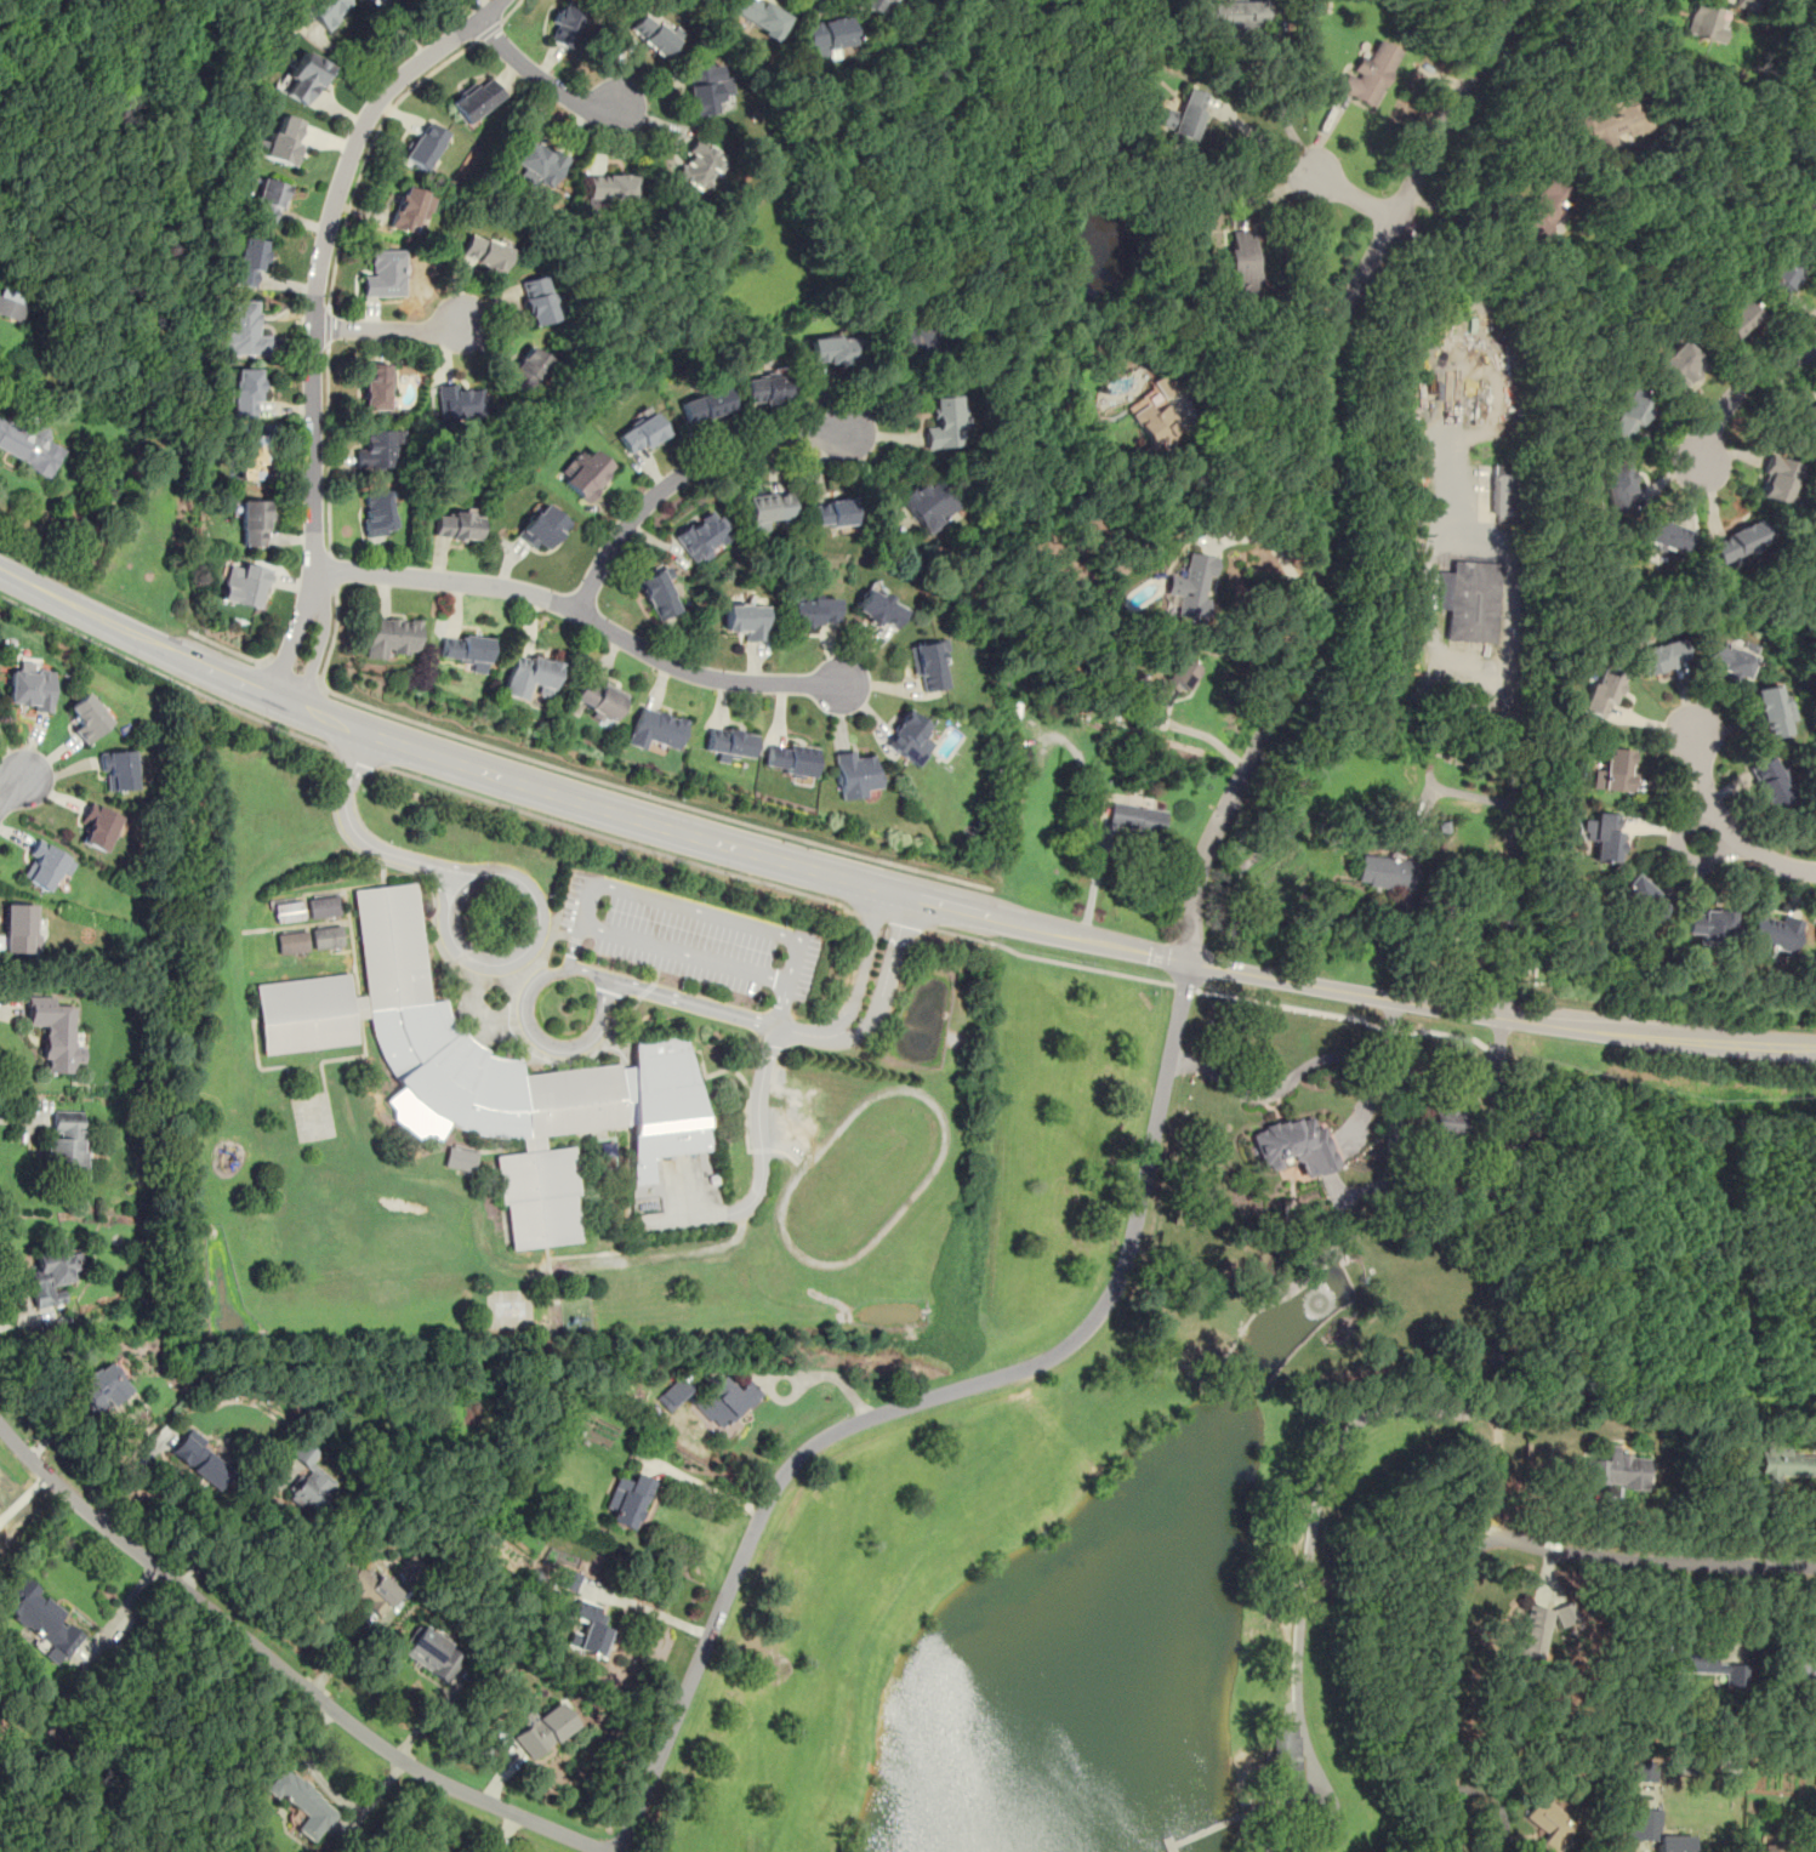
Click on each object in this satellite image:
building: (1744, 4)
building: (877, 6)
road: (509, 10)
building: (326, 11)
building: (1231, 15)
building: (759, 16)
building: (1703, 21)
building: (564, 23)
road: (488, 30)
building: (651, 34)
building: (827, 35)
road: (535, 73)
building: (1368, 73)
building: (304, 78)
building: (707, 87)
road: (1531, 89)
building: (474, 99)
road: (1280, 113)
building: (1184, 118)
building: (1611, 124)
building: (284, 139)
road: (1263, 141)
building: (425, 143)
road: (366, 153)
building: (536, 163)
building: (699, 166)
building: (609, 188)
building: (269, 199)
road: (1372, 205)
building: (1544, 207)
building: (409, 210)
building: (1805, 216)
building: (483, 251)
building: (1242, 261)
building: (247, 262)
building: (1780, 270)
building: (383, 273)
building: (536, 300)
building: (12, 303)
road: (312, 318)
building: (1731, 323)
road: (326, 325)
building: (240, 329)
road: (386, 329)
building: (915, 340)
building: (832, 349)
building: (1676, 365)
building: (526, 370)
building: (375, 386)
road: (1738, 388)
building: (765, 389)
building: (245, 392)
building: (462, 401)
building: (704, 404)
building: (1151, 411)
building: (1628, 414)
building: (1804, 420)
building: (945, 423)
building: (641, 434)
building: (28, 444)
road: (326, 449)
building: (377, 450)
building: (251, 455)
road: (1252, 466)
road: (1321, 472)
building: (582, 473)
road: (678, 475)
building: (1776, 479)
building: (1617, 486)
building: (1501, 489)
building: (927, 505)
building: (769, 509)
building: (832, 512)
building: (377, 513)
building: (254, 523)
building: (456, 525)
building: (541, 528)
building: (701, 536)
building: (1664, 536)
building: (1737, 542)
road: (1270, 546)
road: (332, 571)
building: (245, 583)
building: (1191, 587)
building: (657, 593)
building: (1467, 599)
building: (878, 608)
building: (812, 611)
road: (582, 614)
building: (745, 620)
building: (392, 636)
building: (466, 649)
road: (232, 650)
building: (1660, 656)
building: (1727, 661)
building: (928, 666)
road: (292, 674)
building: (529, 674)
road: (164, 676)
building: (1175, 679)
building: (33, 689)
building: (1600, 691)
building: (599, 697)
building: (1771, 711)
building: (89, 717)
building: (655, 728)
building: (909, 737)
building: (728, 742)
road: (357, 757)
building: (791, 759)
building: (119, 769)
building: (1613, 770)
building: (855, 775)
road: (605, 780)
building: (1769, 782)
road: (11, 792)
building: (1135, 819)
road: (1514, 820)
building: (98, 825)
road: (1724, 826)
road: (355, 833)
building: (1602, 836)
road: (620, 840)
building: (46, 865)
building: (1384, 871)
road: (611, 884)
road: (886, 888)
building: (1643, 897)
building: (323, 906)
building: (288, 911)
road: (1430, 916)
road: (894, 919)
building: (1708, 924)
building: (19, 927)
building: (1771, 931)
building: (326, 936)
building: (292, 942)
road: (573, 947)
road: (524, 948)
road: (1052, 959)
road: (861, 969)
road: (1185, 986)
road: (883, 988)
road: (712, 1008)
road: (528, 1030)
building: (53, 1033)
road: (1380, 1070)
building: (485, 1072)
road: (1279, 1088)
building: (1435, 1119)
building: (66, 1139)
building: (1293, 1146)
building: (460, 1159)
road: (761, 1159)
building: (52, 1275)
road: (1495, 1277)
building: (101, 1387)
building: (674, 1395)
building: (727, 1401)
road: (918, 1401)
building: (198, 1458)
building: (1781, 1464)
building: (1615, 1470)
road: (132, 1476)
building: (309, 1480)
road: (708, 1487)
road: (1319, 1492)
building: (628, 1500)
road: (230, 1518)
road: (1663, 1561)
building: (570, 1579)
building: (359, 1588)
road: (647, 1608)
building: (1565, 1613)
building: (41, 1618)
building: (590, 1628)
building: (1532, 1632)
building: (432, 1653)
road: (283, 1668)
building: (1707, 1668)
building: (1801, 1669)
road: (1445, 1676)
building: (542, 1728)
building: (1285, 1755)
building: (1636, 1771)
building: (303, 1803)
building: (1550, 1825)
building: (1650, 1831)
building: (1780, 1848)

